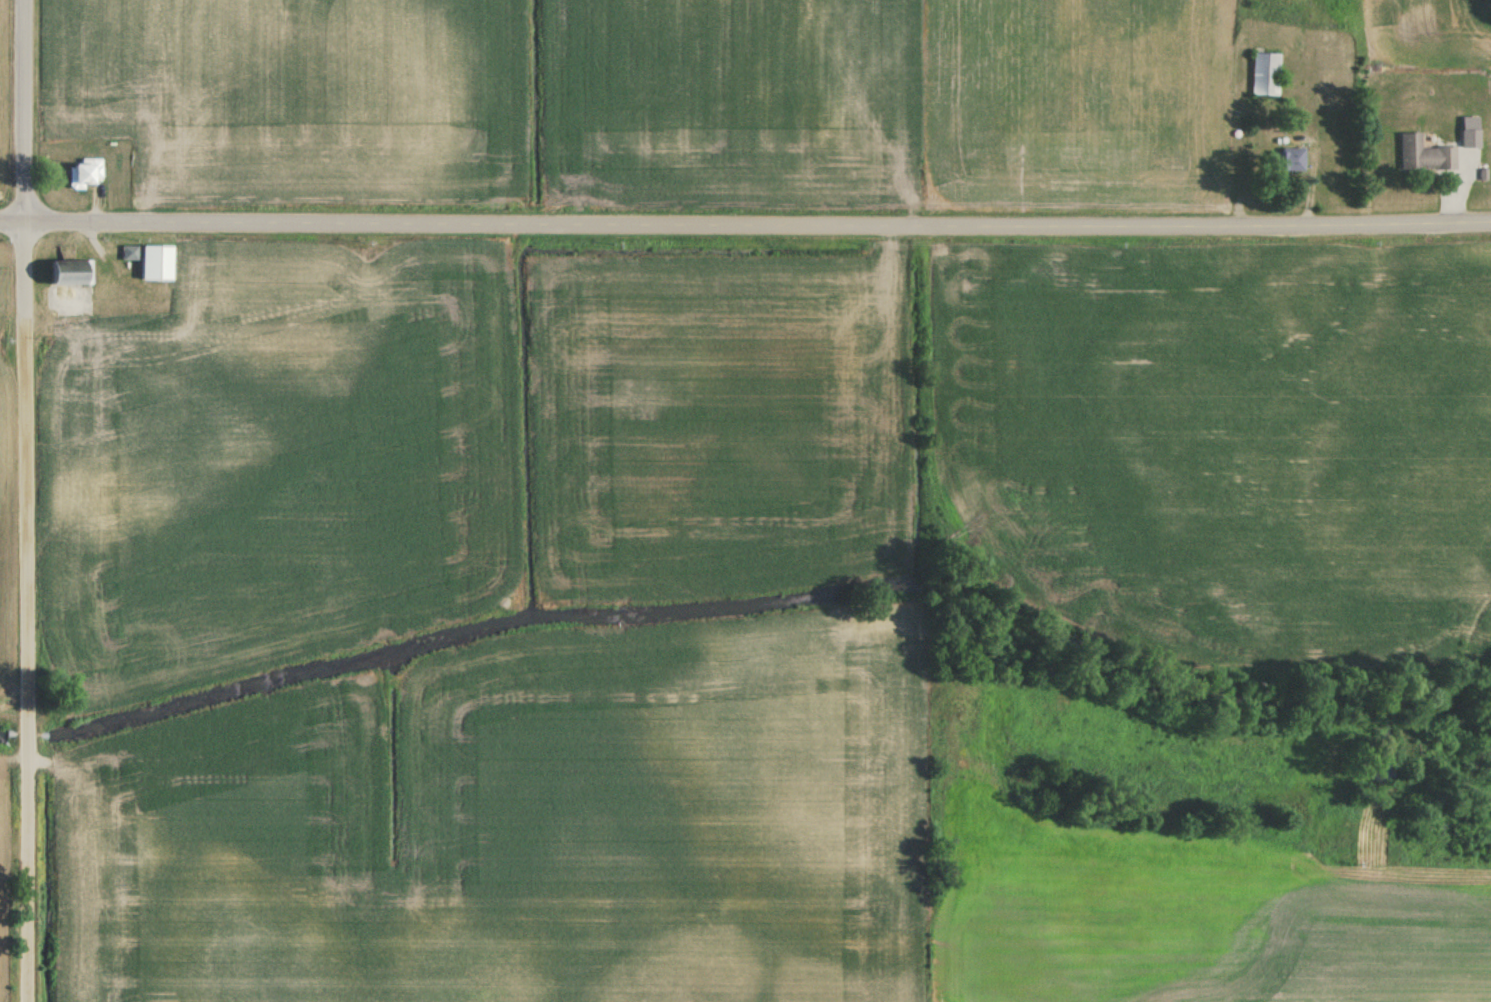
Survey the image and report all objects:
building: (1264, 75)
building: (1334, 91)
building: (1470, 139)
building: (1424, 156)
building: (1286, 161)
building: (82, 174)
road: (745, 224)
building: (149, 262)
building: (67, 275)
road: (29, 500)

